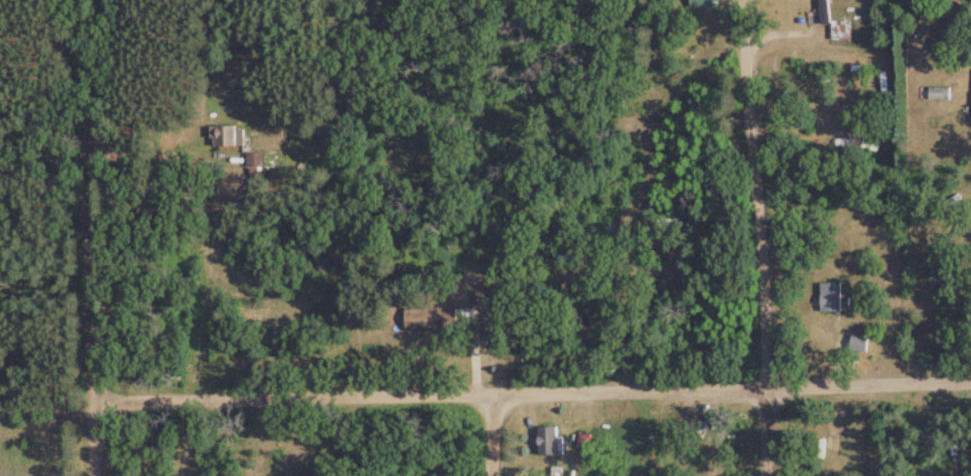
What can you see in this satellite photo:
building: (825, 12)
building: (841, 31)
building: (939, 94)
building: (227, 137)
road: (755, 244)
building: (830, 298)
road: (100, 308)
road: (484, 397)
road: (489, 436)
building: (549, 441)
building: (583, 441)

